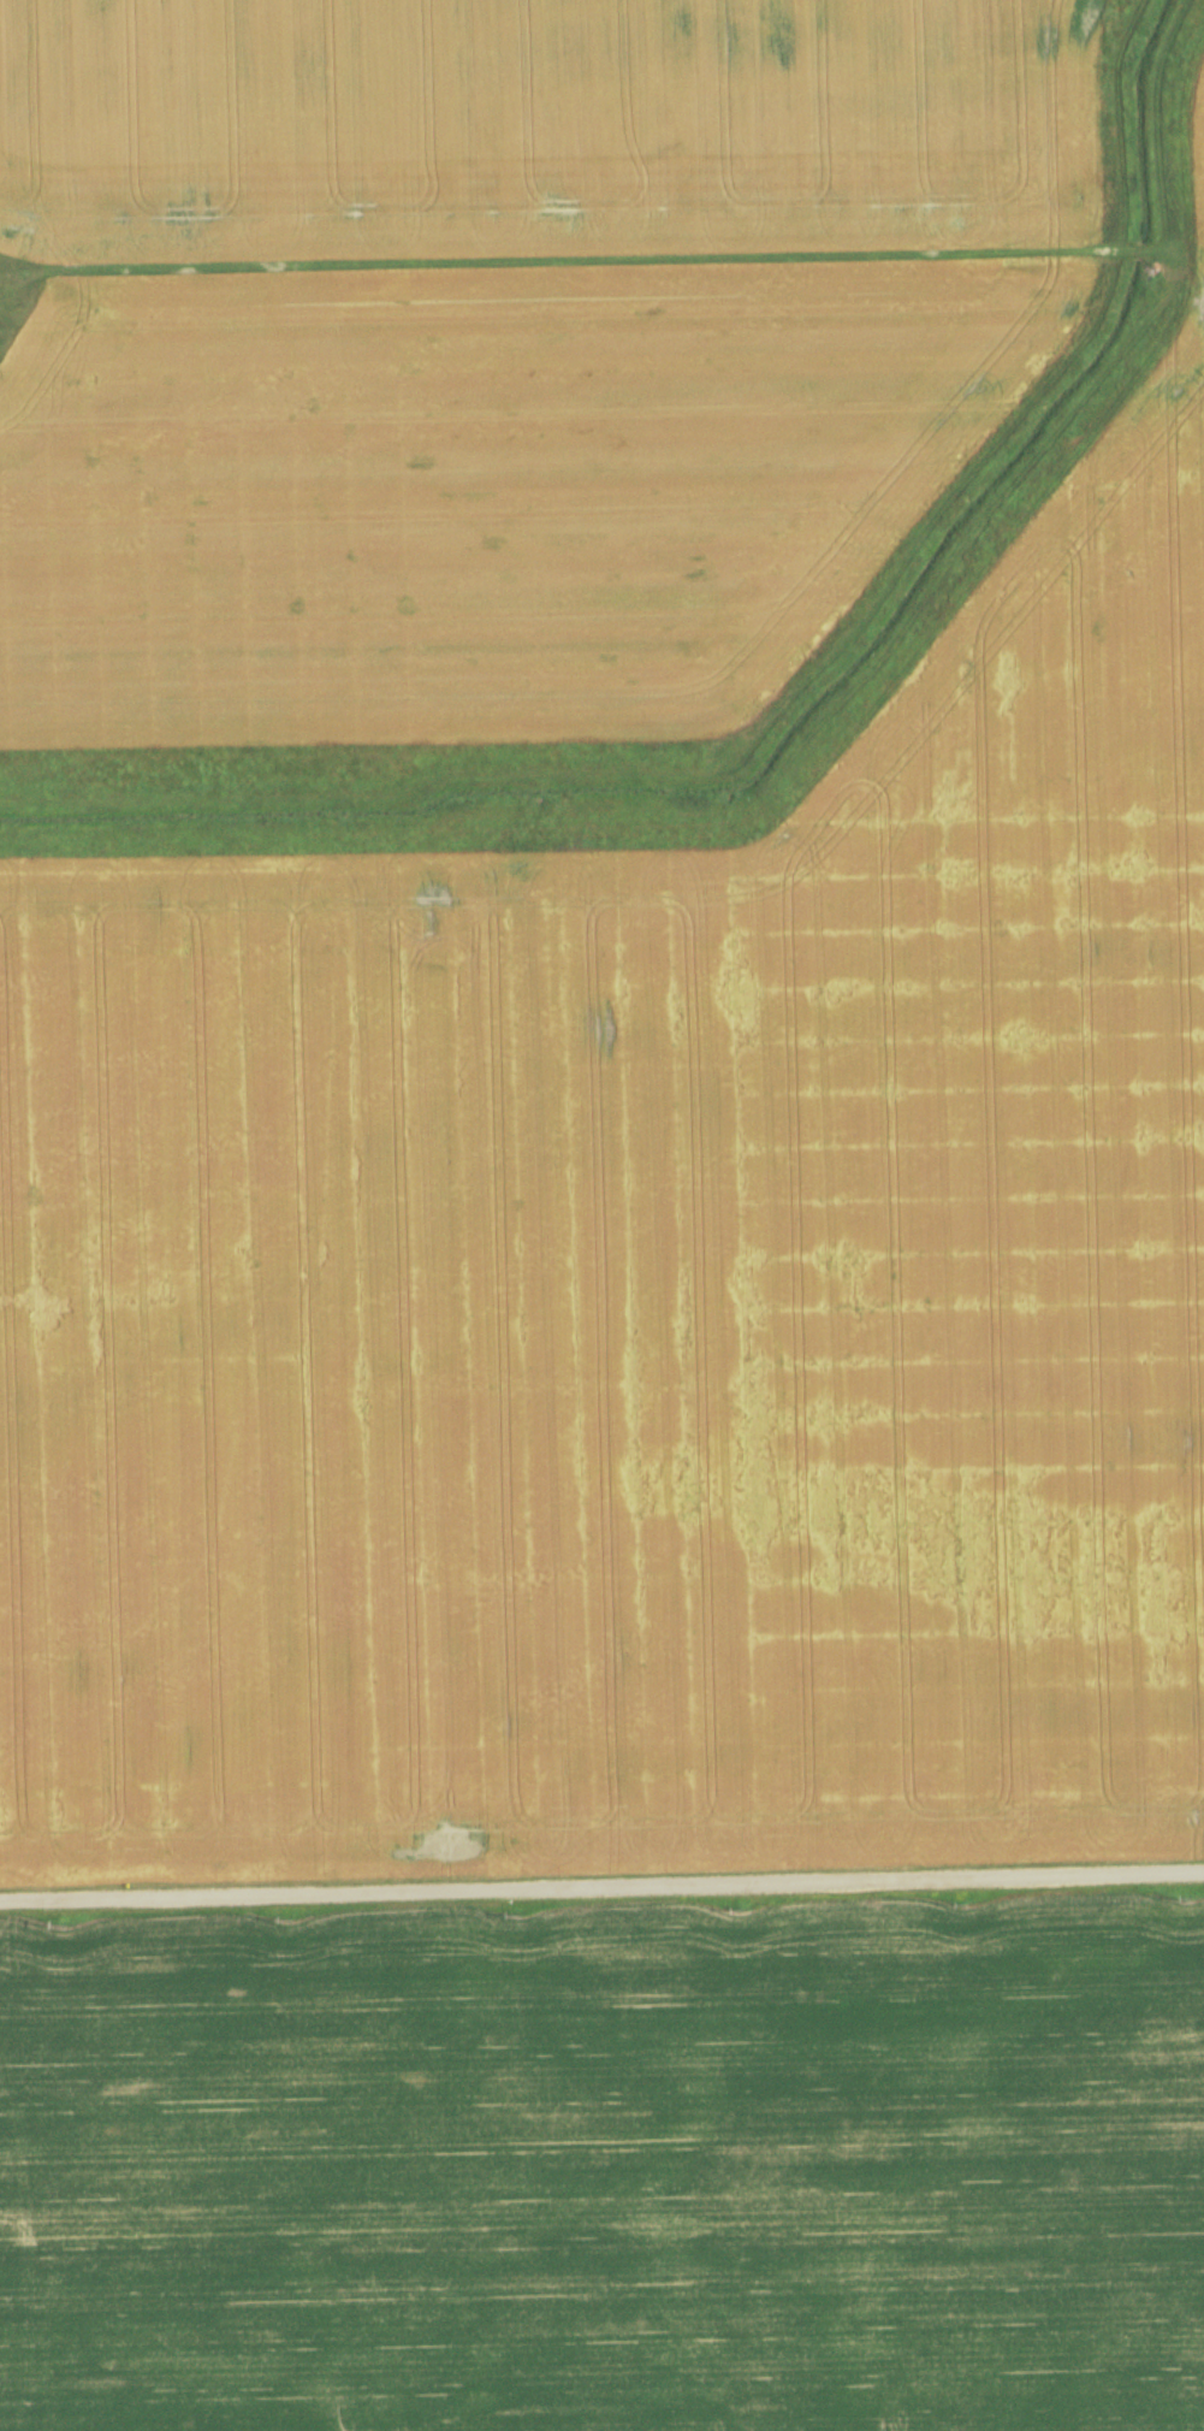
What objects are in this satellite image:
road: (601, 1883)

